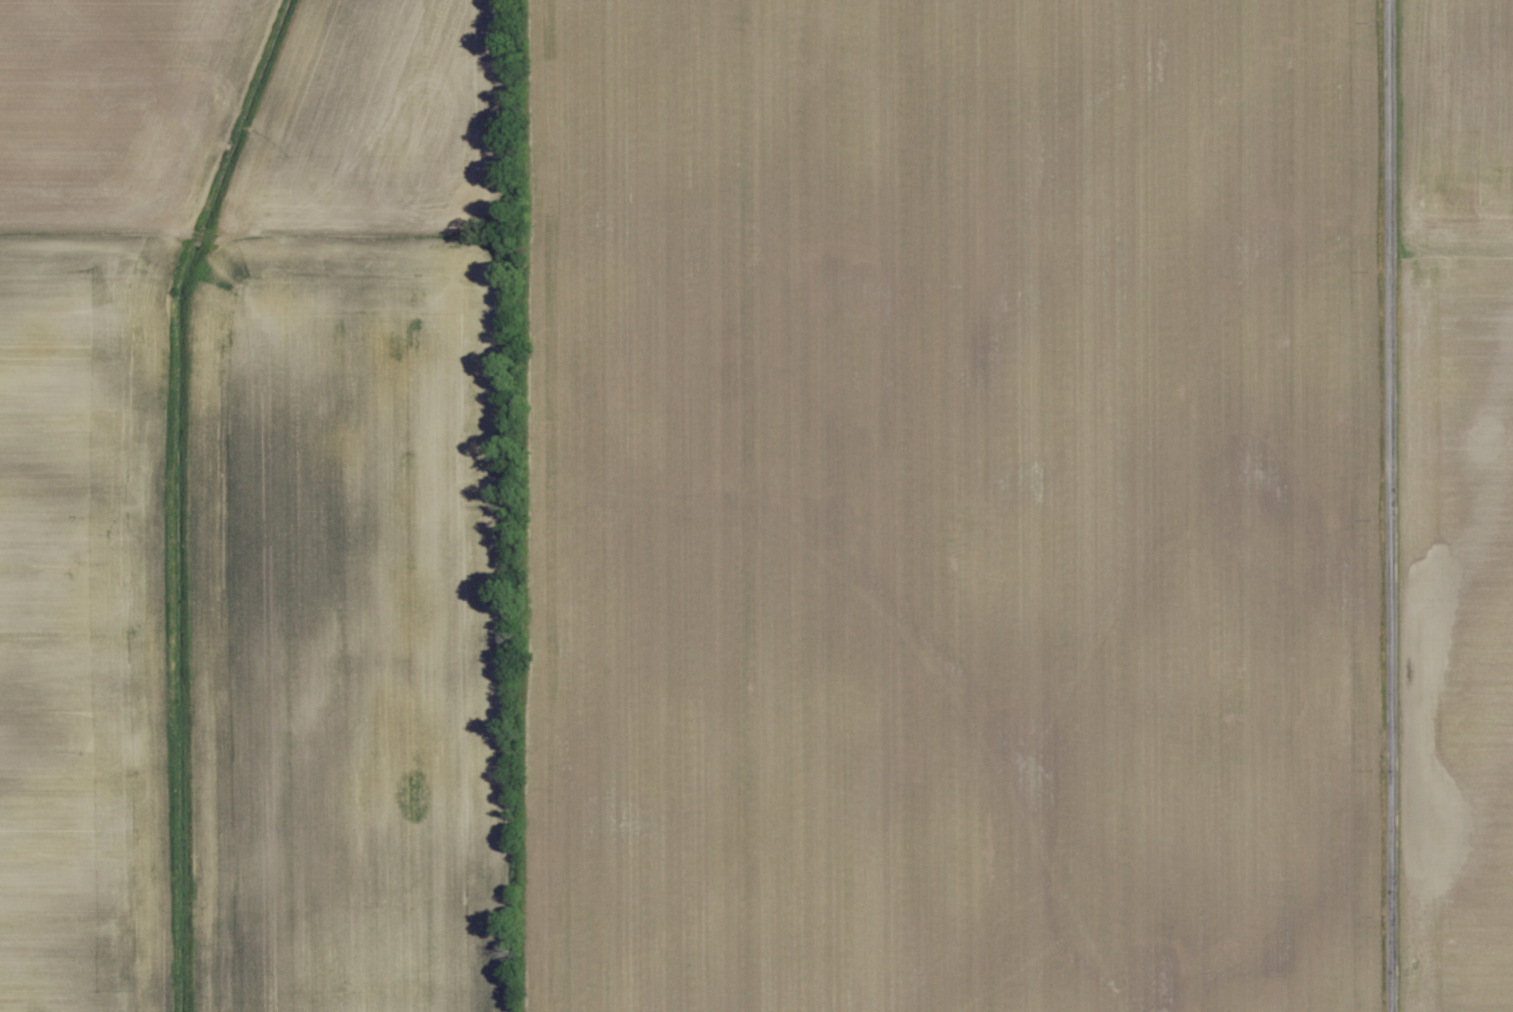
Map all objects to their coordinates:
road: (1392, 506)

